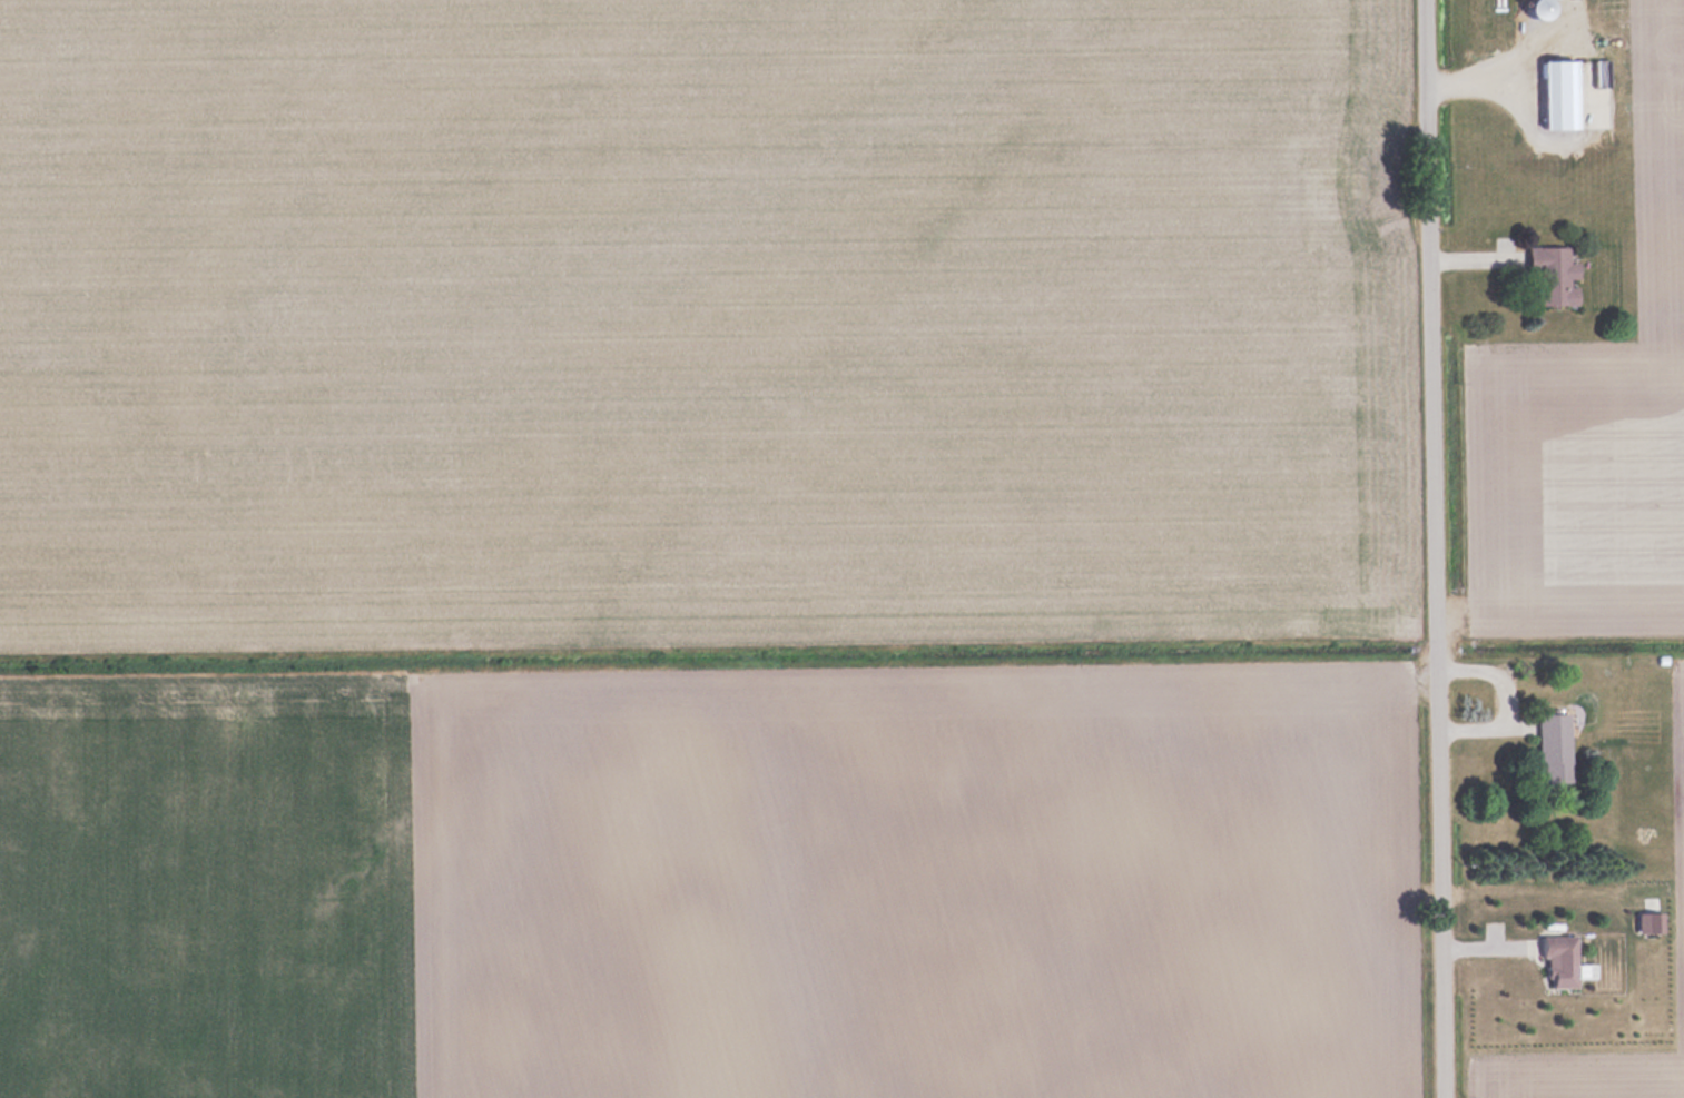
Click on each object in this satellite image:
building: (1564, 95)
building: (1554, 277)
road: (1439, 548)
building: (1553, 746)
building: (1649, 914)
building: (1564, 961)

